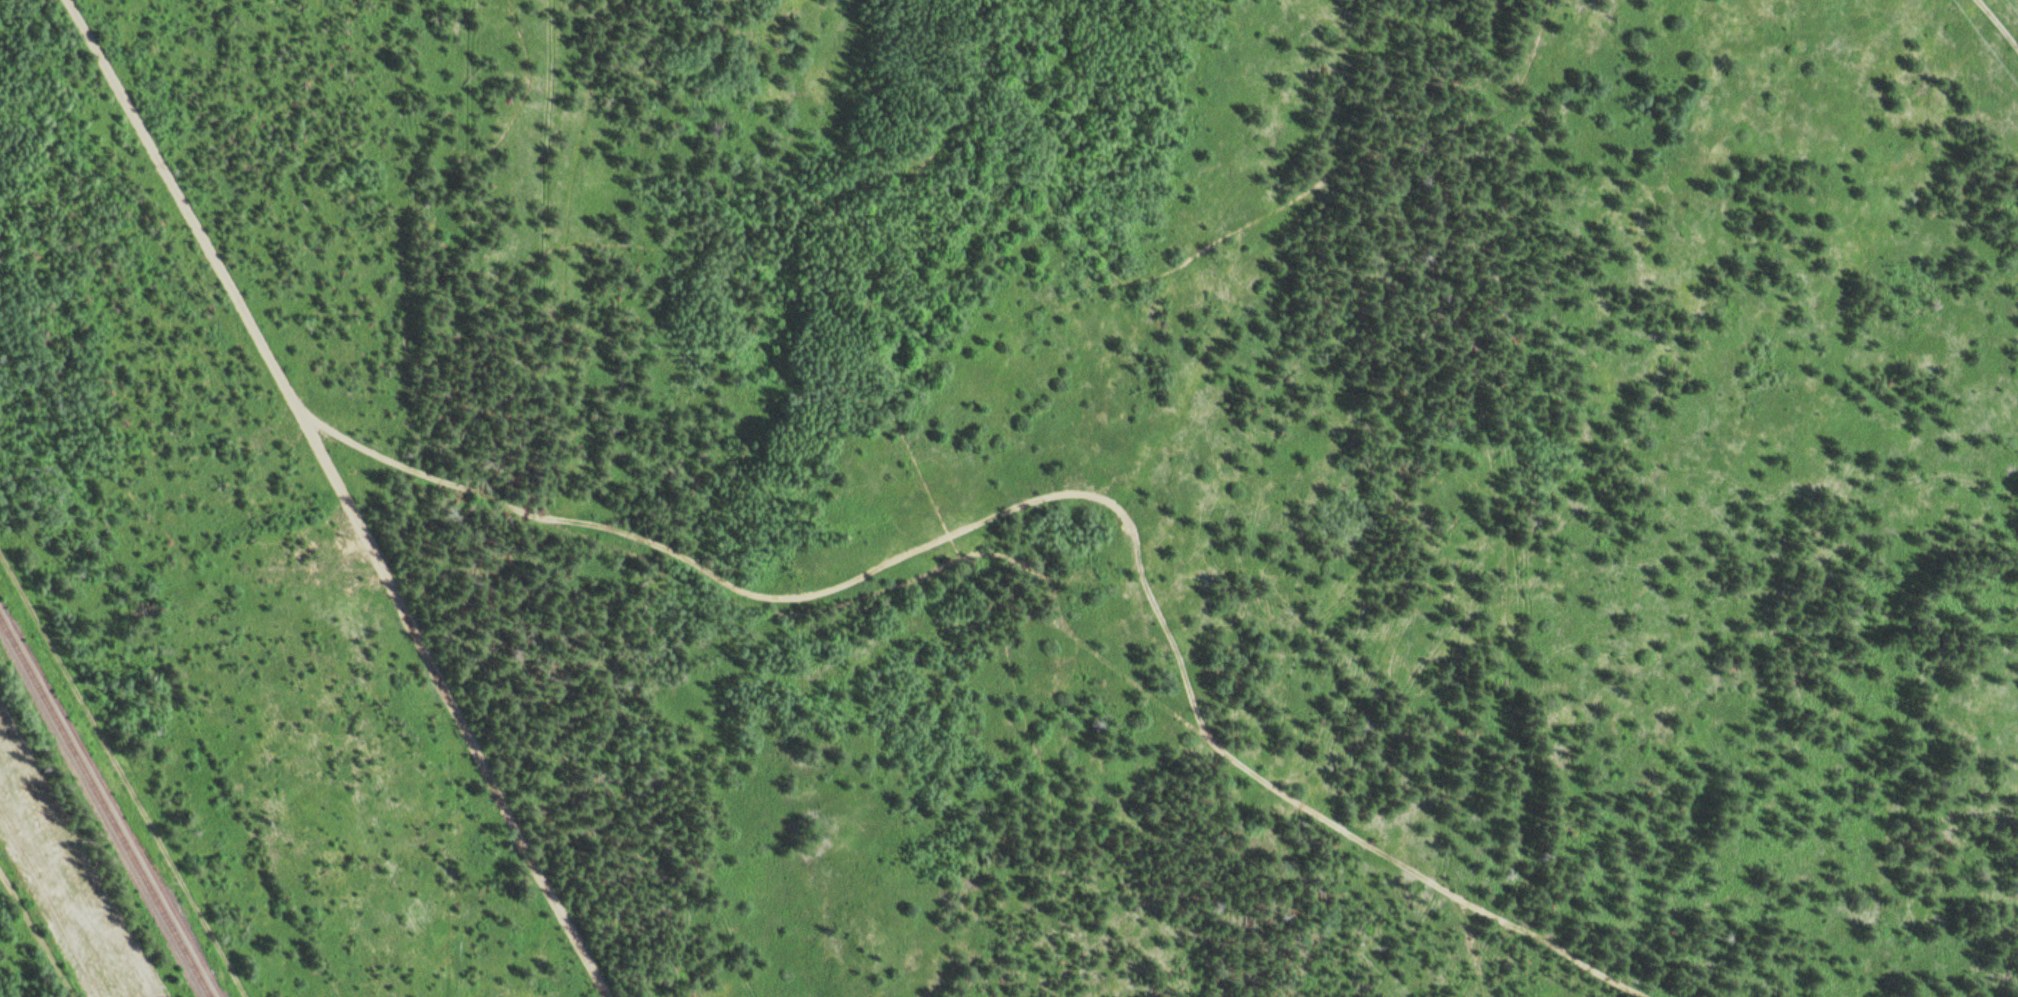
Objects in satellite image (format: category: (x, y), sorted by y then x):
road: (2002, 20)
road: (346, 497)
road: (949, 535)
road: (1022, 555)
road: (123, 771)
railway: (108, 798)
road: (39, 936)
road: (1472, 946)

